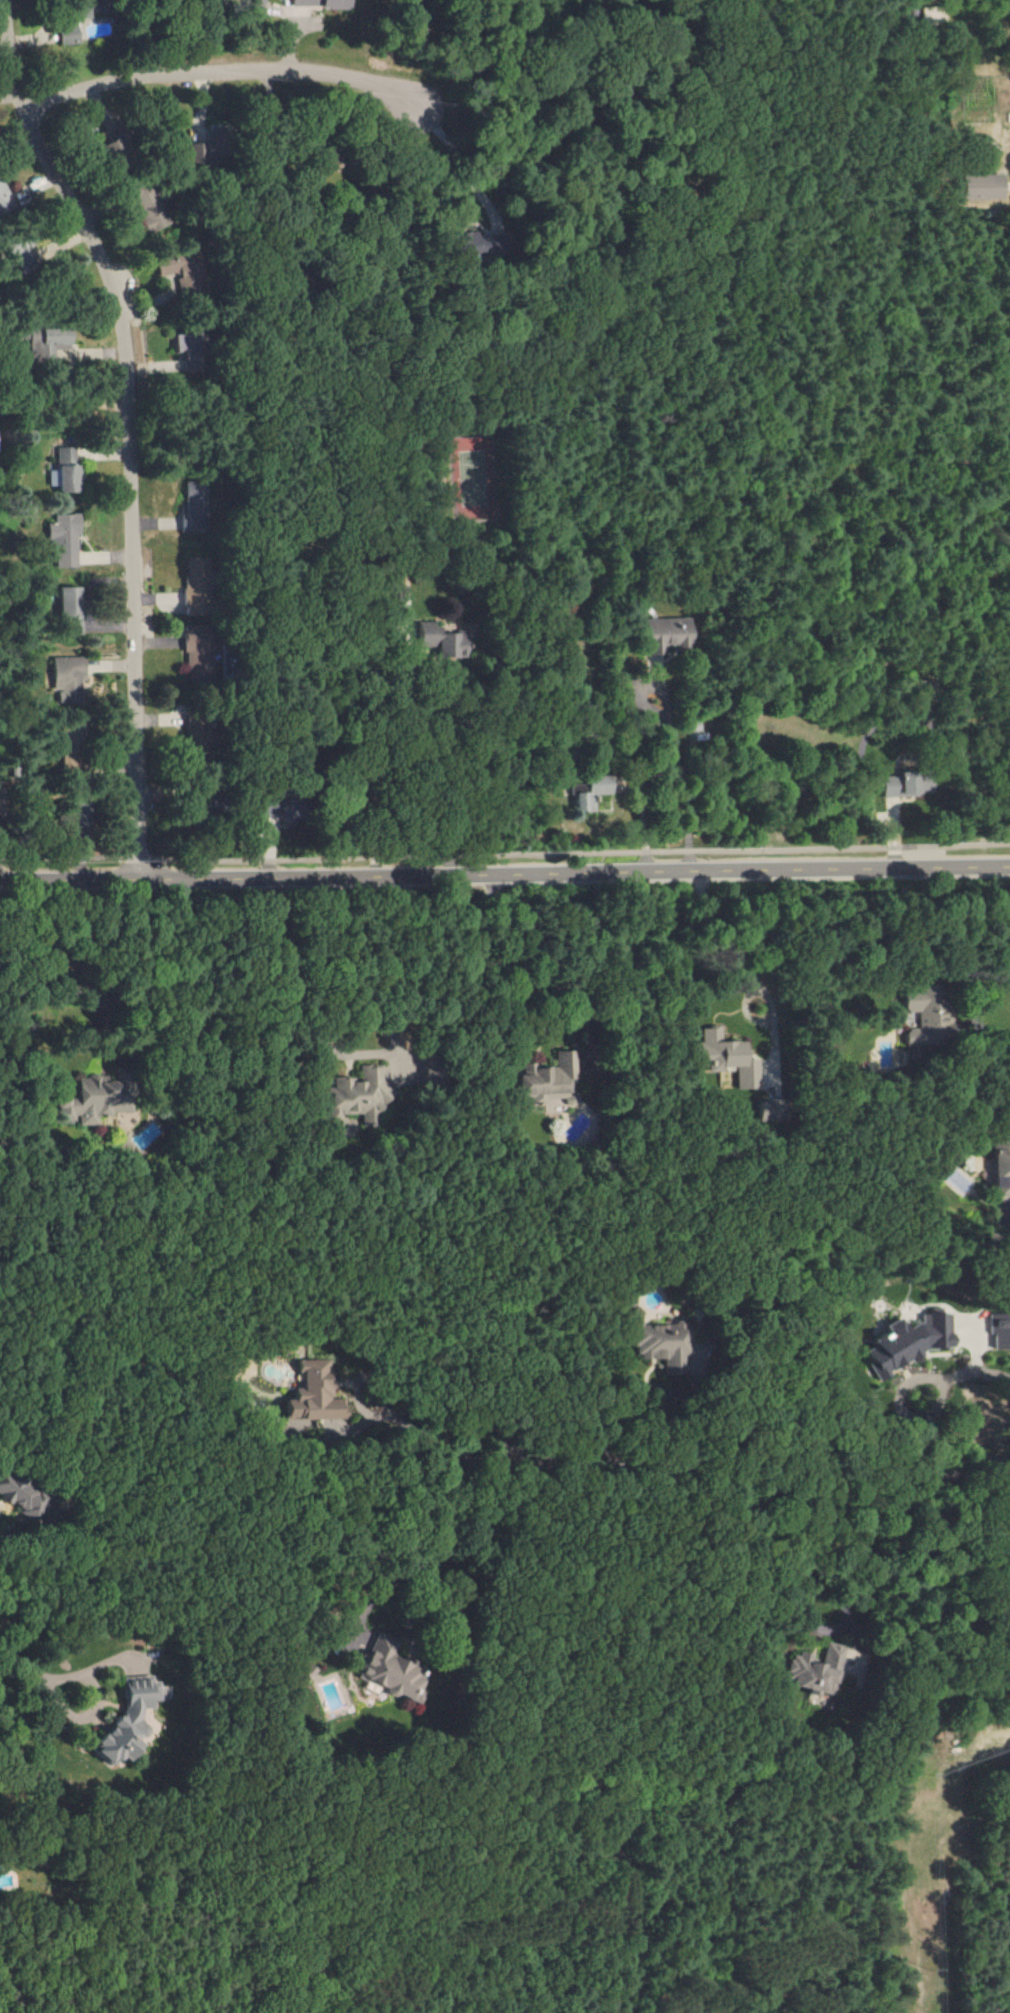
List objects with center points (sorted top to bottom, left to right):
building: (321, 3)
building: (67, 34)
road: (332, 74)
road: (130, 80)
road: (465, 155)
building: (978, 187)
building: (3, 197)
building: (152, 221)
building: (469, 242)
building: (168, 266)
building: (47, 344)
road: (65, 400)
road: (130, 426)
building: (67, 470)
building: (198, 506)
building: (64, 538)
building: (198, 586)
building: (396, 596)
building: (72, 607)
building: (666, 633)
building: (436, 640)
building: (196, 650)
building: (69, 678)
road: (452, 773)
building: (909, 784)
road: (691, 787)
building: (588, 793)
road: (645, 816)
road: (504, 857)
road: (505, 871)
road: (55, 980)
road: (535, 982)
road: (283, 1003)
building: (922, 1018)
building: (720, 1058)
building: (546, 1079)
building: (357, 1096)
building: (93, 1100)
building: (998, 1168)
building: (998, 1332)
building: (903, 1342)
road: (642, 1385)
building: (311, 1395)
road: (426, 1432)
road: (753, 1494)
road: (84, 1571)
road: (421, 1581)
road: (0, 1594)
road: (0, 1595)
road: (377, 1597)
road: (846, 1613)
road: (23, 1666)
building: (387, 1668)
building: (814, 1670)
road: (96, 1704)
building: (130, 1720)

